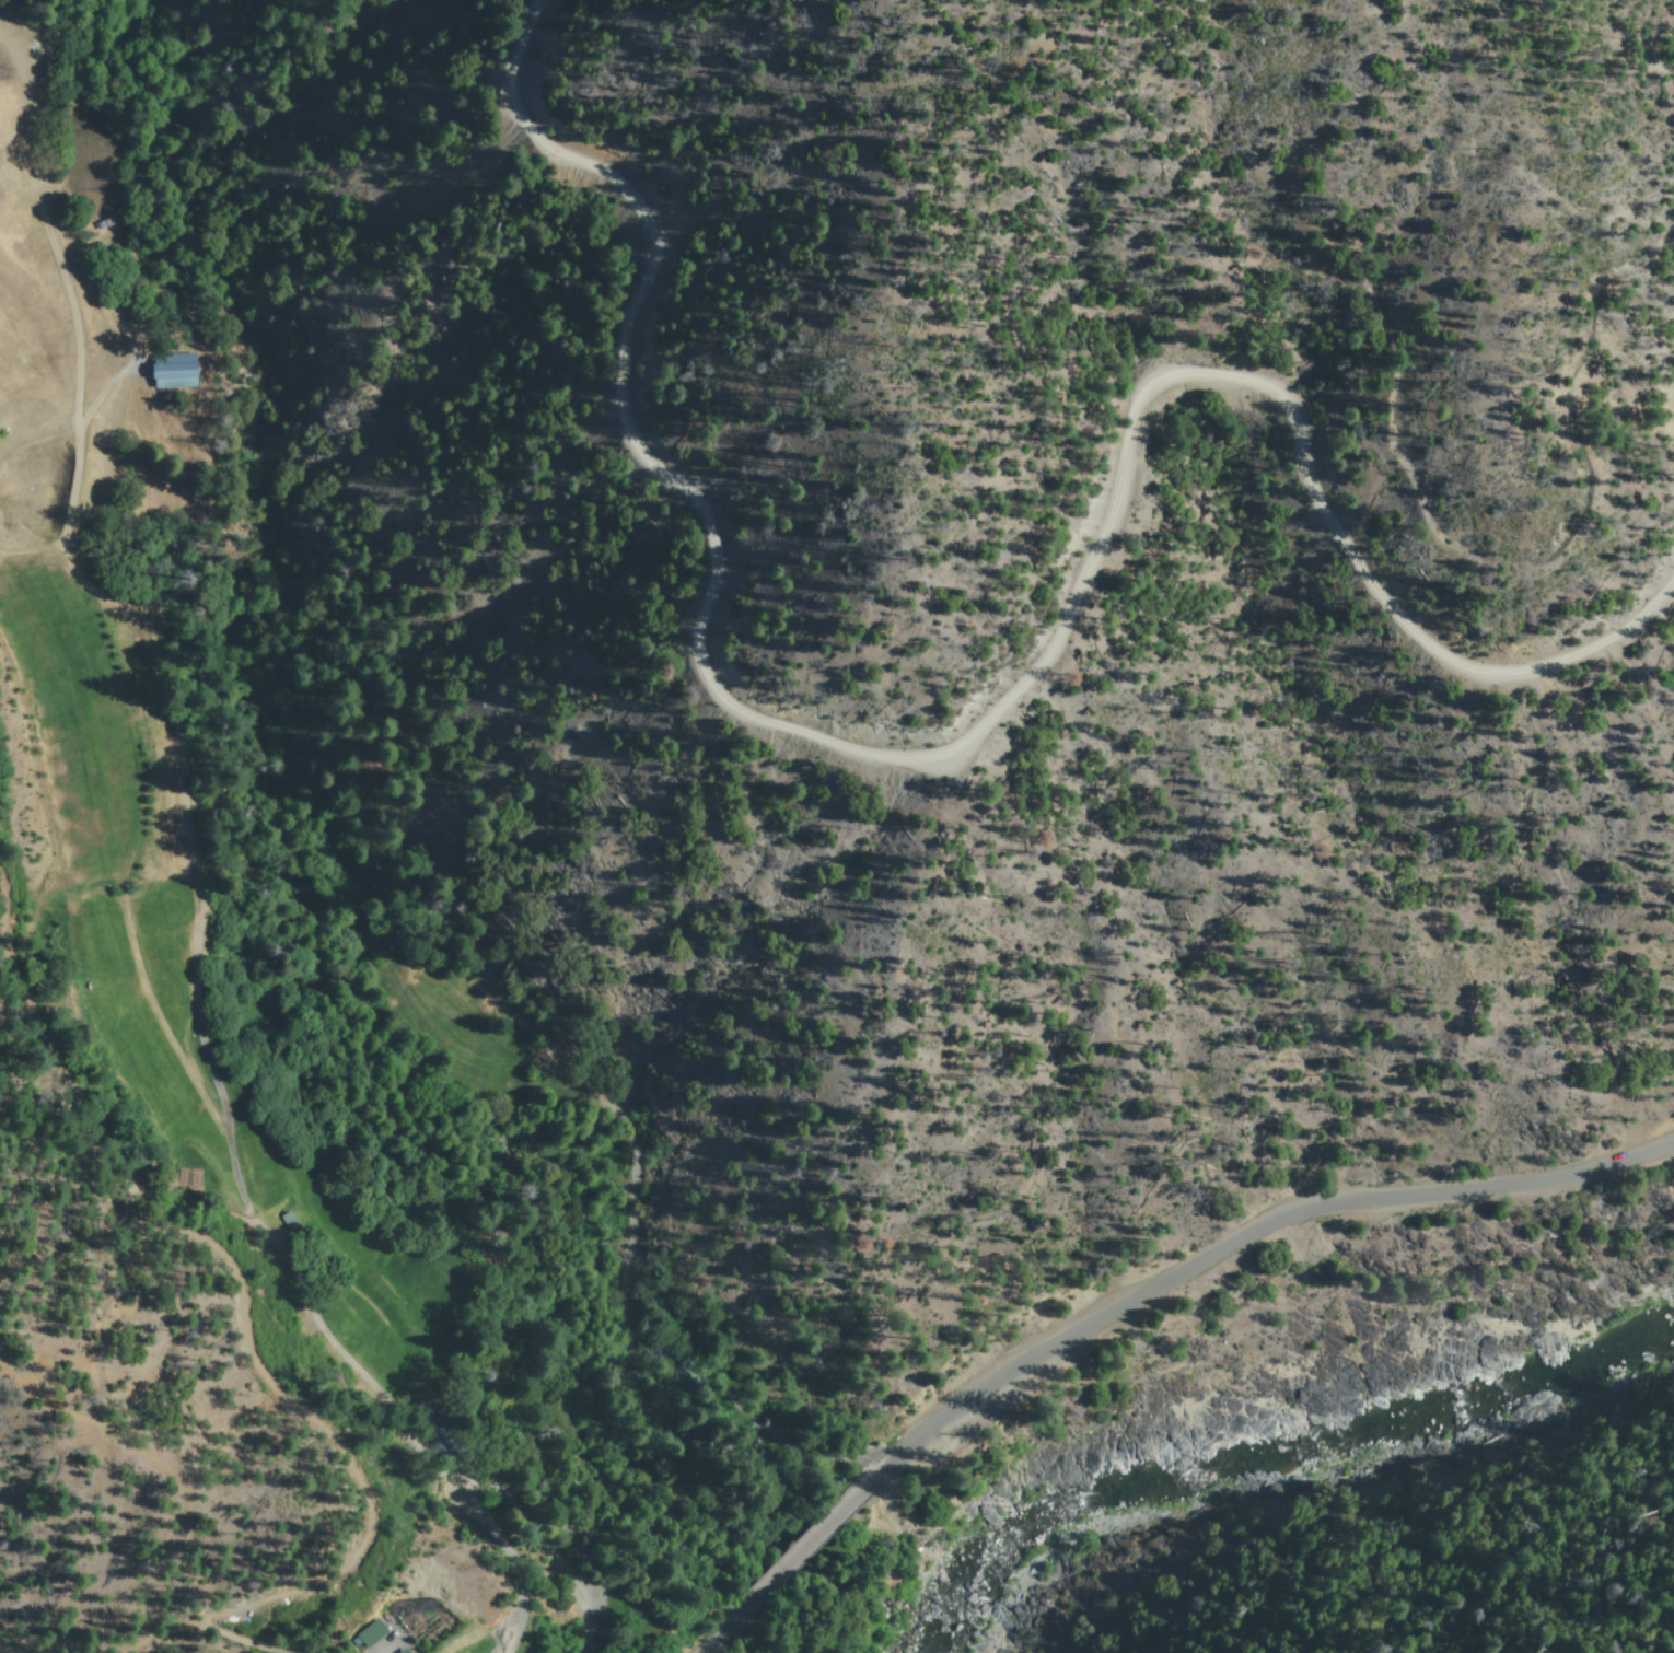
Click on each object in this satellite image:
building: (172, 369)
road: (976, 712)
road: (132, 915)
road: (1139, 1299)
river: (1302, 1456)
building: (371, 1631)
river: (937, 1632)

